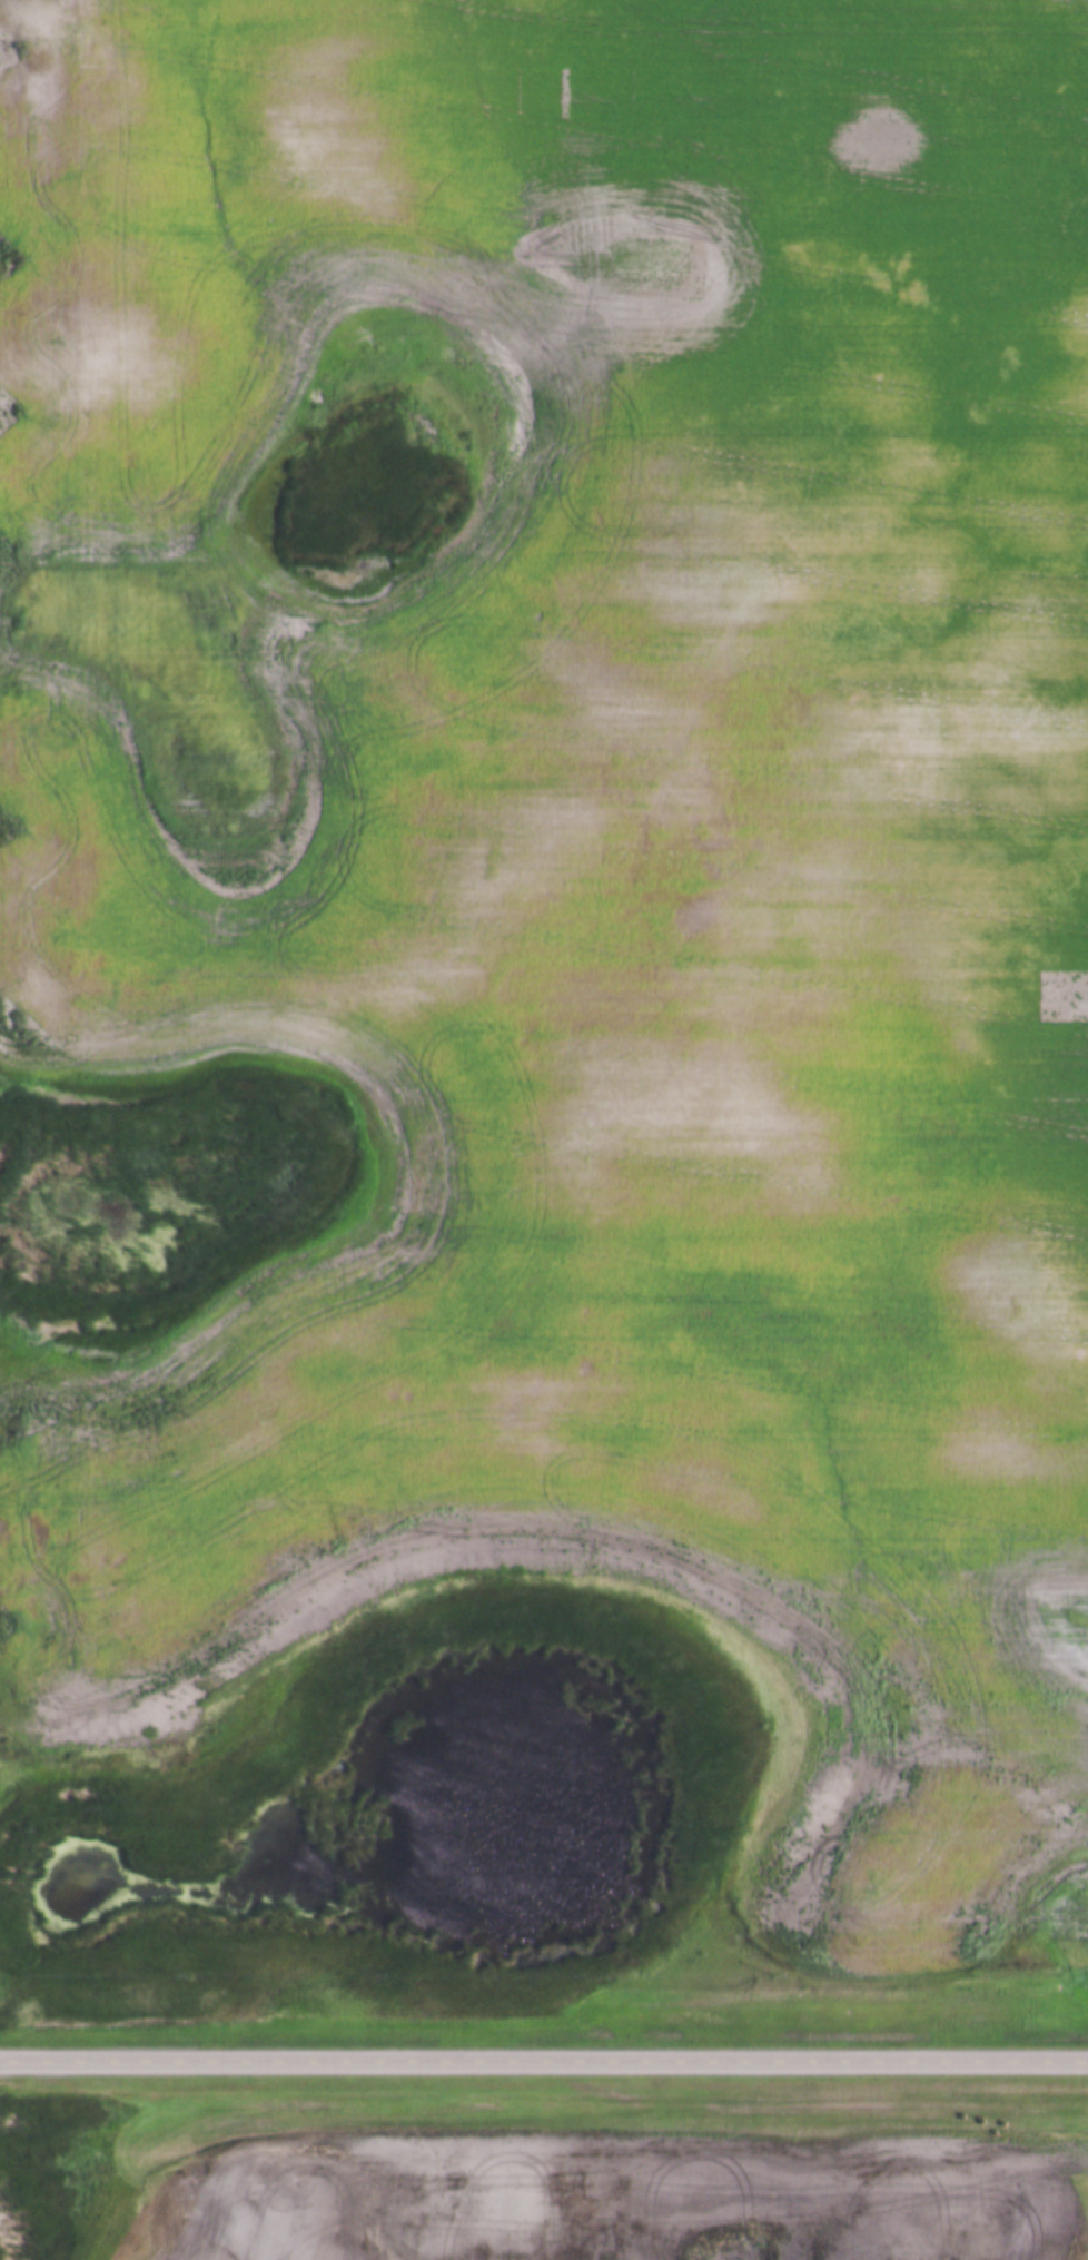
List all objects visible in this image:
road: (544, 2056)

